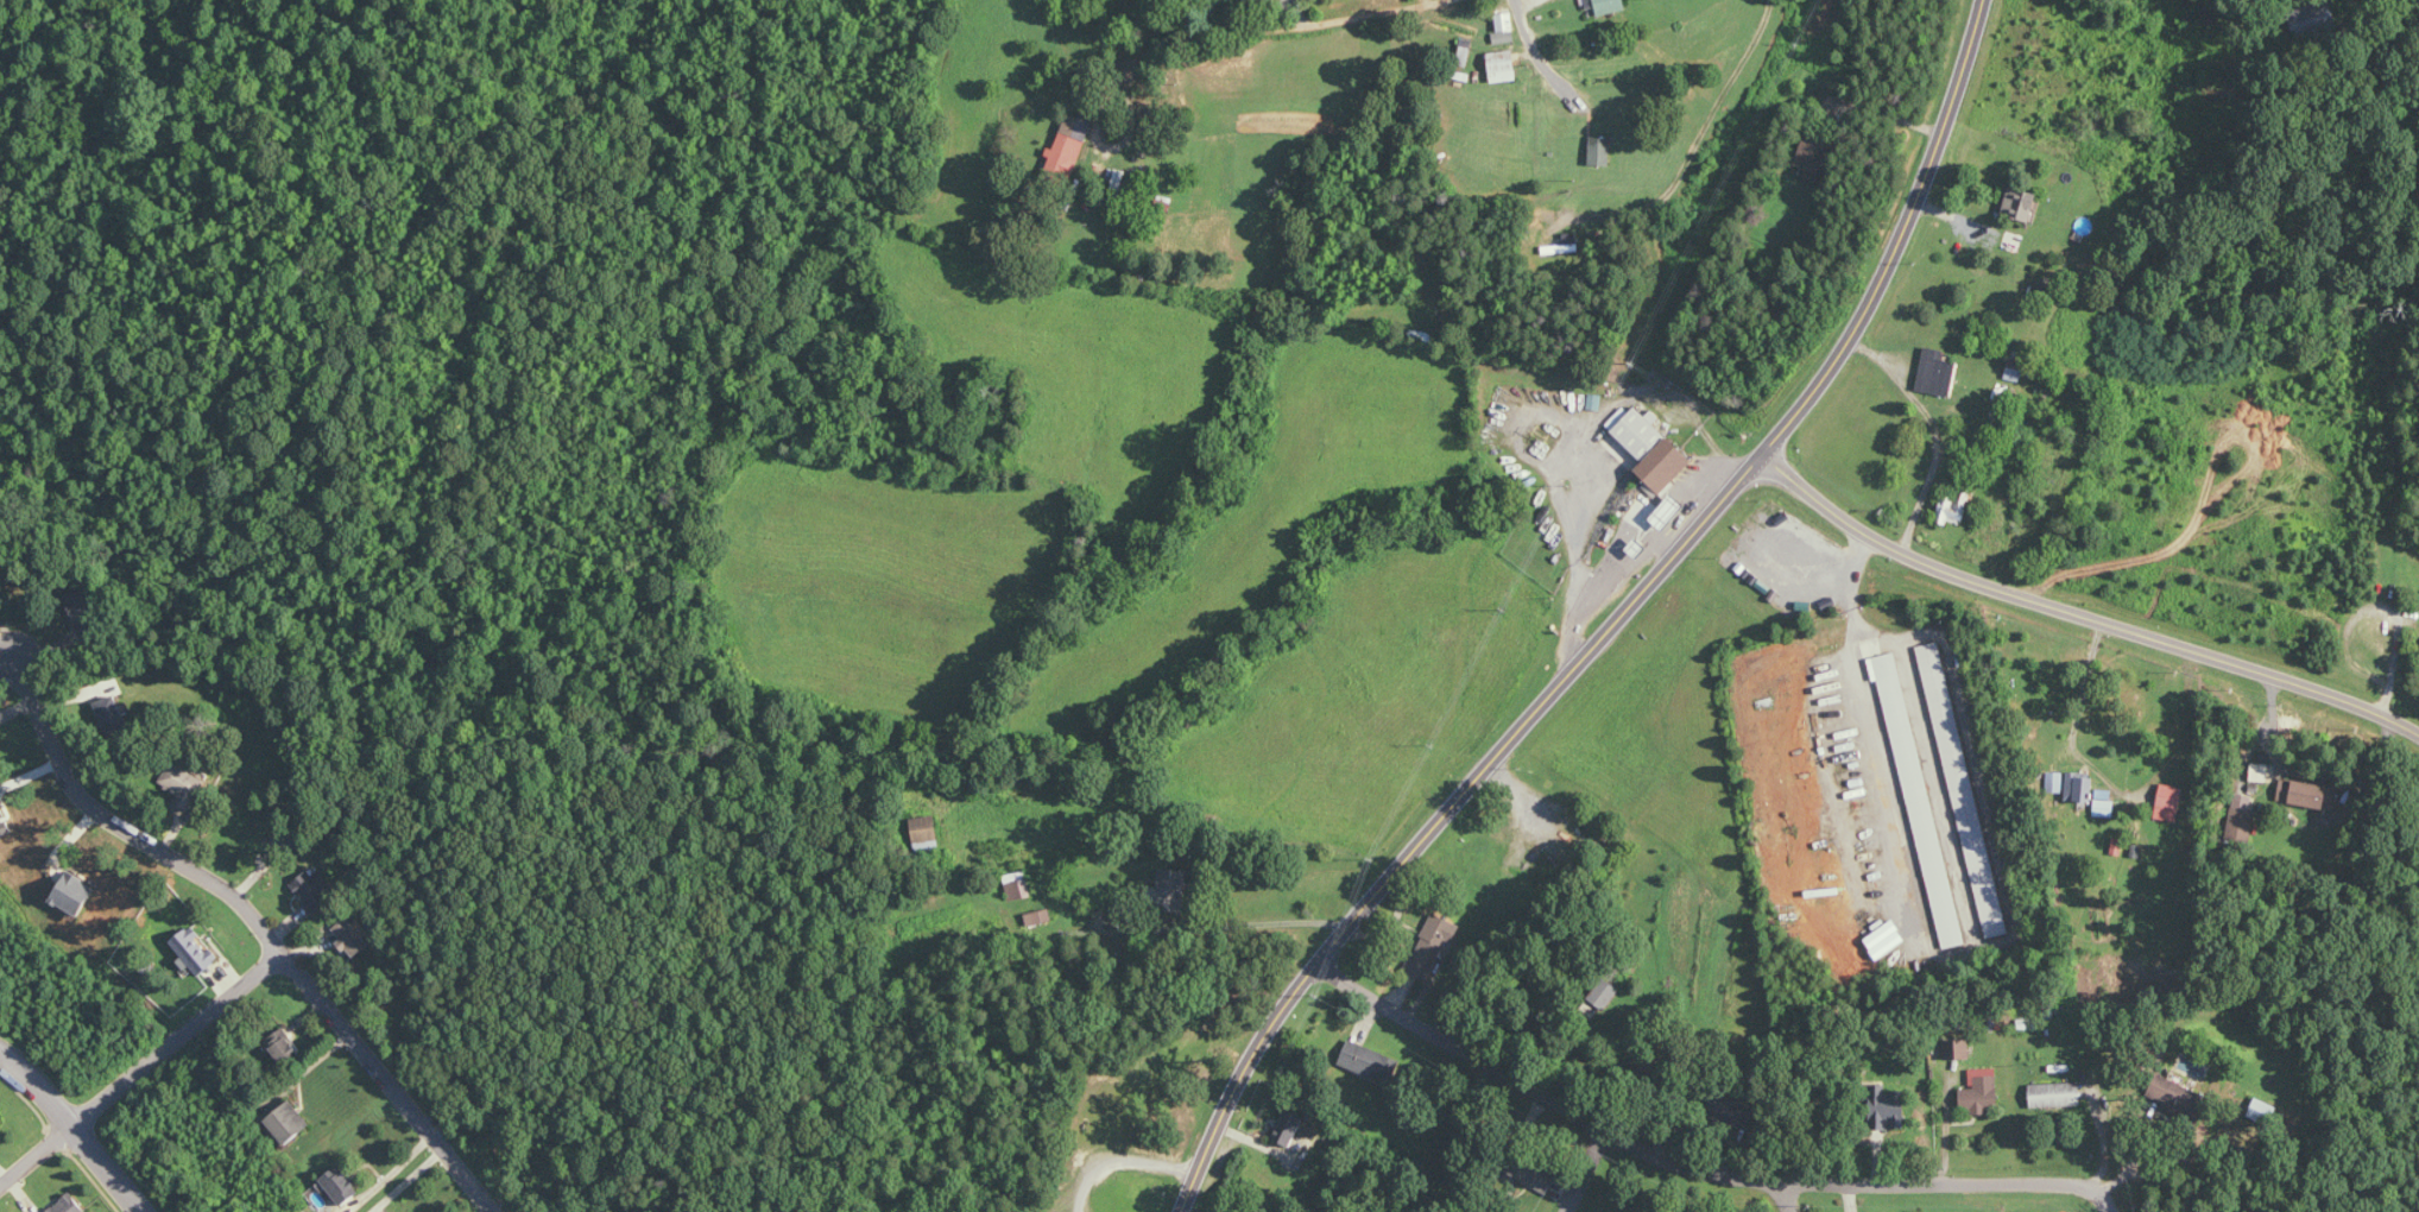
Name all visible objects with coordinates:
building: (1606, 6)
building: (2313, 20)
building: (1504, 29)
road: (1257, 33)
building: (1503, 65)
road: (1707, 78)
road: (1886, 112)
building: (1068, 147)
building: (1602, 151)
building: (1814, 153)
building: (2020, 203)
building: (1938, 373)
building: (1636, 430)
building: (1663, 465)
building: (1954, 504)
building: (1668, 511)
road: (1575, 549)
building: (81, 599)
road: (2379, 608)
road: (2077, 612)
road: (1612, 623)
building: (109, 709)
road: (1874, 722)
building: (2260, 771)
building: (182, 781)
building: (2079, 787)
building: (1963, 789)
building: (2311, 793)
building: (1919, 800)
building: (2169, 802)
building: (2104, 803)
building: (2242, 814)
building: (2, 820)
building: (1017, 885)
building: (315, 888)
building: (1170, 890)
building: (74, 892)
building: (1040, 916)
road: (260, 921)
building: (349, 938)
building: (1886, 938)
building: (1432, 946)
building: (196, 949)
building: (1604, 993)
building: (1589, 1011)
building: (283, 1046)
building: (1957, 1049)
road: (1448, 1053)
building: (1372, 1060)
road: (140, 1068)
park: (1018, 1085)
building: (1982, 1092)
building: (2174, 1093)
building: (2055, 1094)
building: (1889, 1107)
building: (1739, 1113)
building: (289, 1122)
road: (76, 1126)
building: (1288, 1128)
road: (1124, 1162)
road: (1573, 1172)
building: (1540, 1178)
building: (341, 1185)
road: (1843, 1189)
road: (1781, 1200)
building: (68, 1205)

